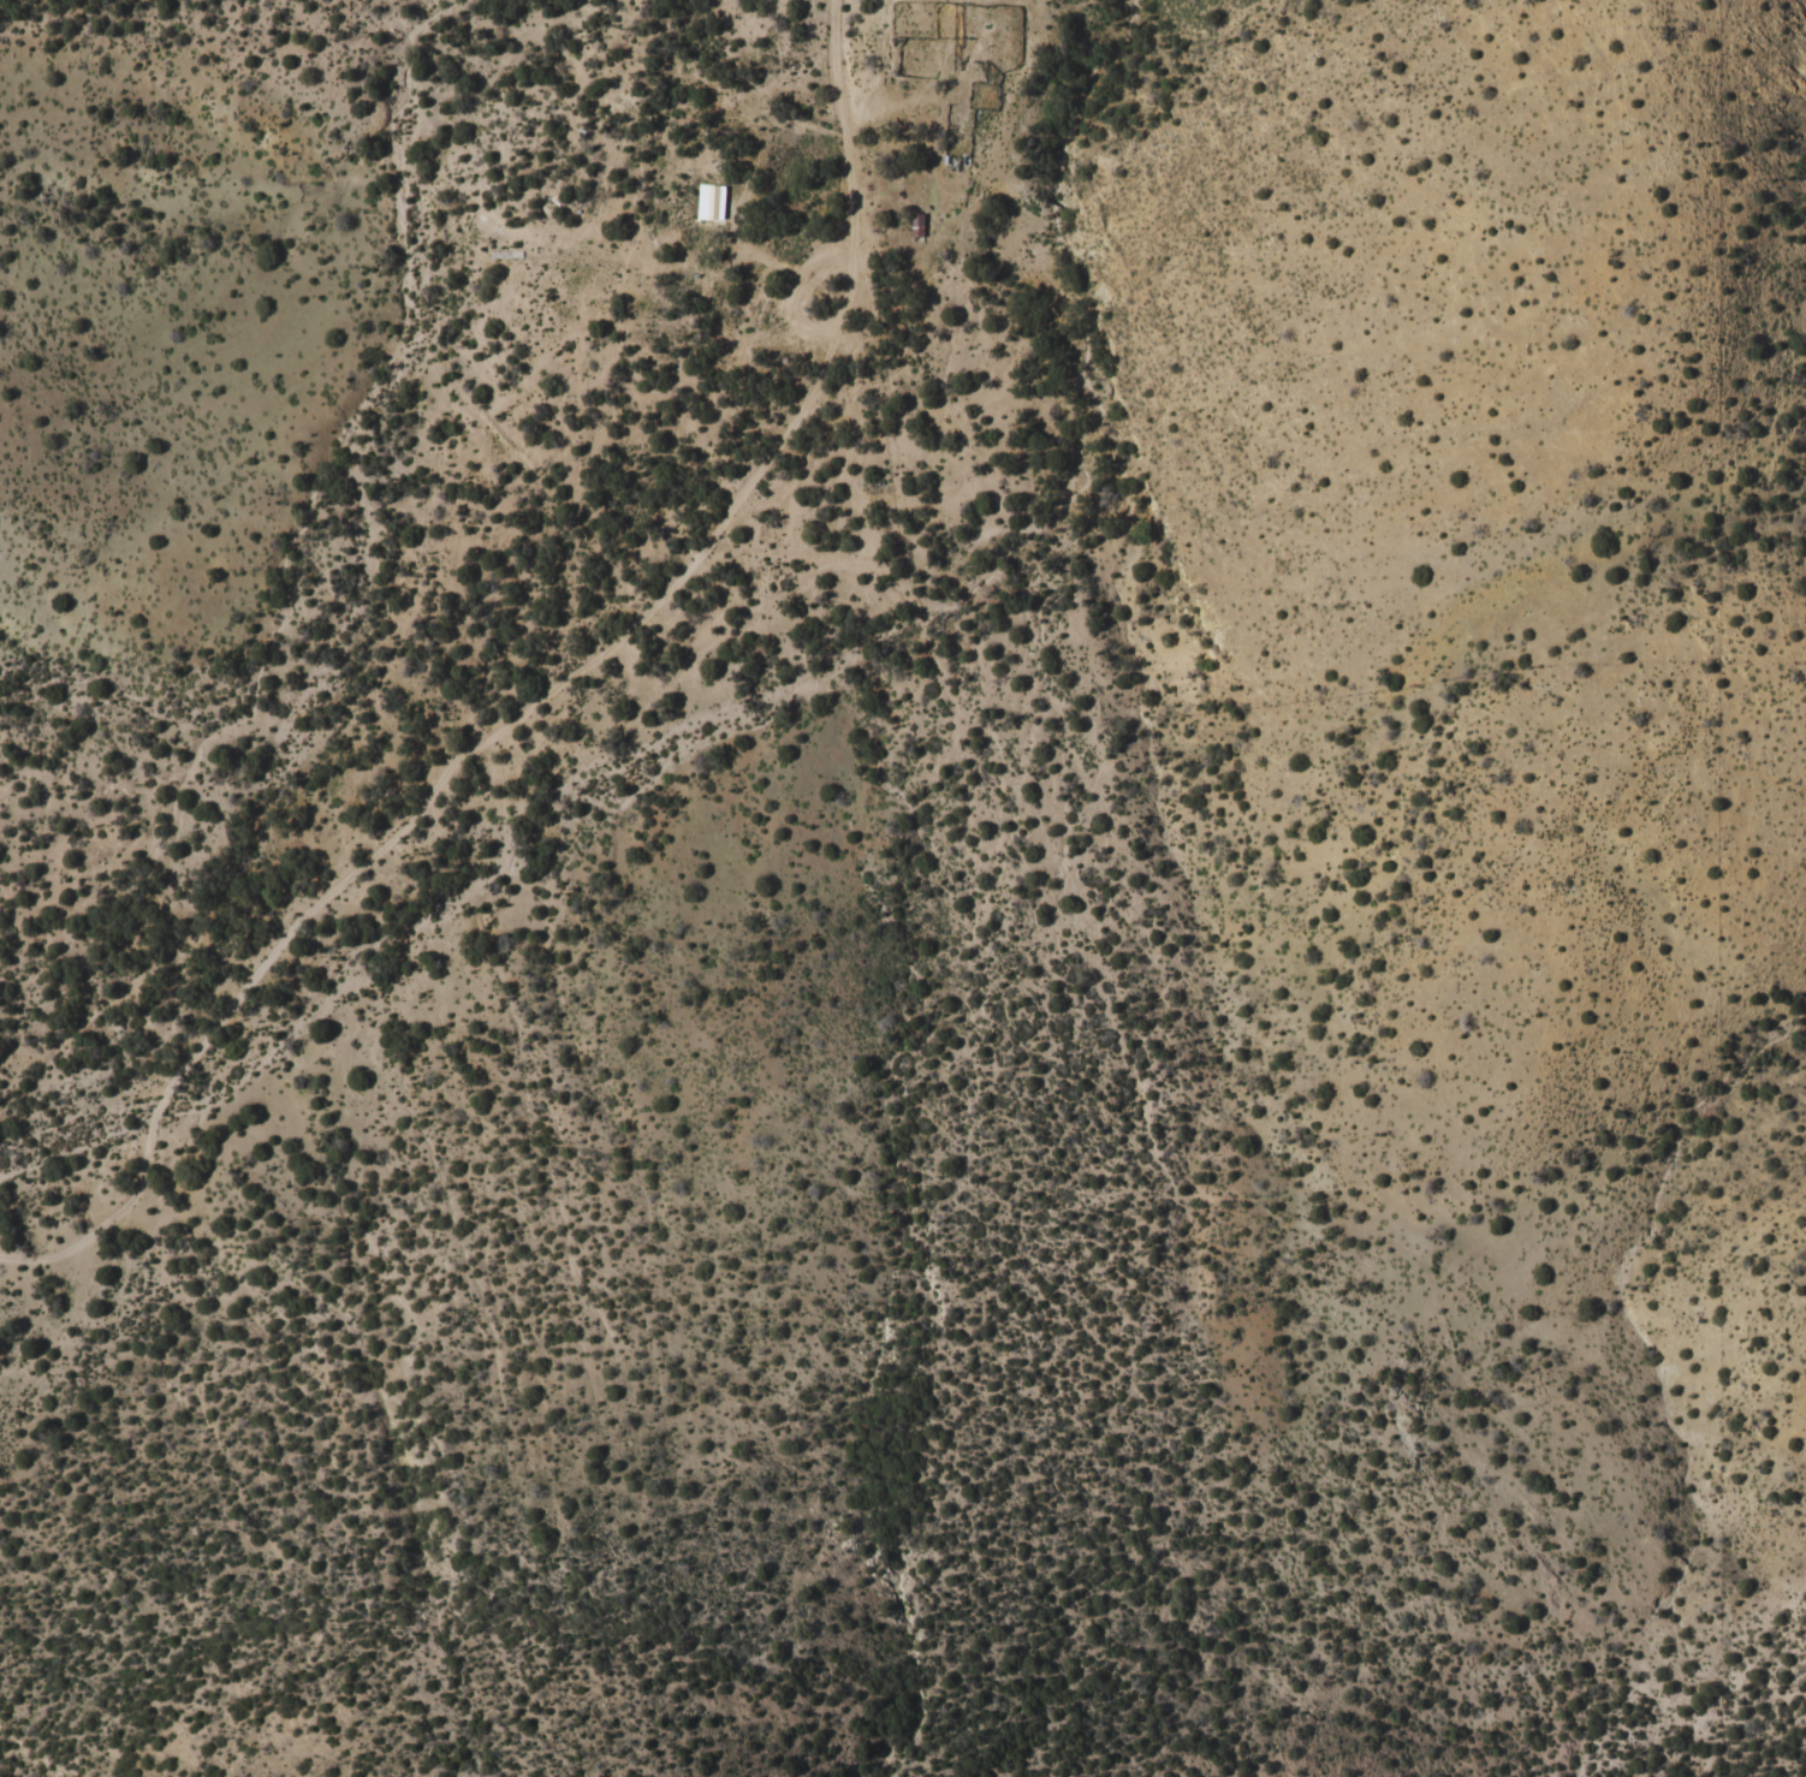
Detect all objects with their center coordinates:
building: (950, 155)
building: (707, 196)
dam: (1053, 200)
building: (915, 216)
building: (806, 286)
road: (535, 691)

